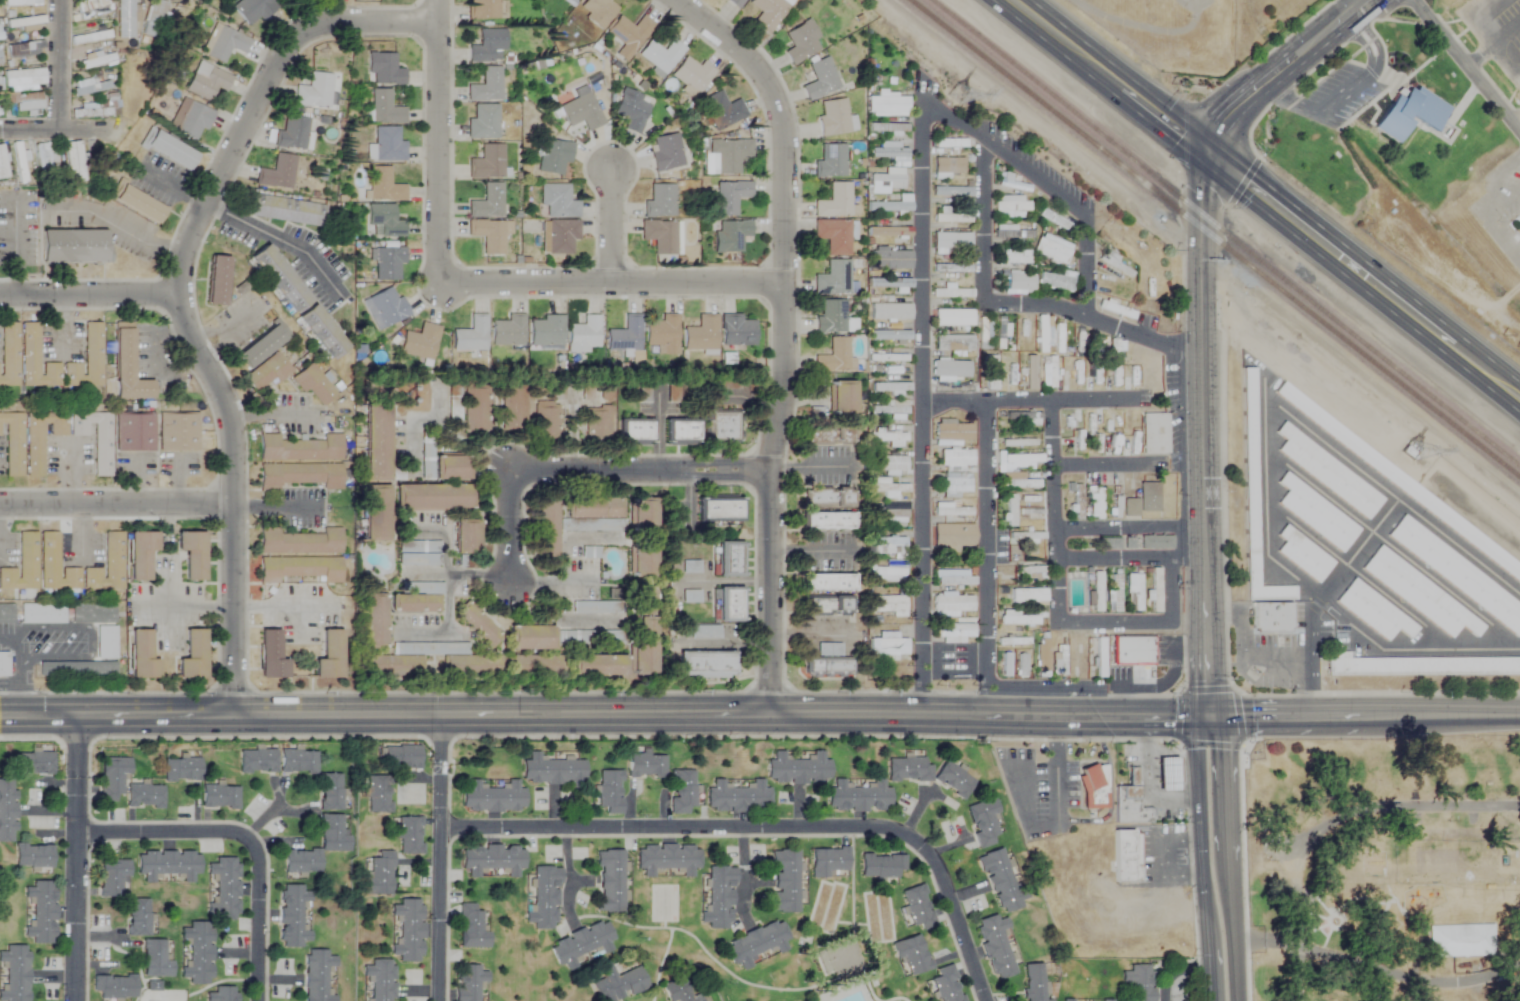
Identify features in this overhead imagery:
building: (21, 2)
building: (734, 3)
building: (90, 8)
building: (483, 9)
building: (252, 10)
building: (598, 12)
building: (768, 13)
building: (124, 19)
building: (155, 19)
building: (24, 24)
road: (1475, 25)
building: (629, 35)
building: (801, 42)
building: (224, 44)
building: (488, 47)
building: (24, 48)
road: (1493, 52)
building: (661, 55)
road: (57, 64)
road: (1464, 67)
road: (1278, 68)
building: (383, 70)
building: (22, 73)
building: (692, 75)
building: (820, 80)
building: (206, 82)
power tower: (963, 85)
building: (90, 86)
building: (486, 87)
building: (314, 92)
building: (24, 104)
building: (887, 105)
building: (384, 109)
building: (632, 110)
building: (88, 111)
building: (722, 111)
building: (581, 112)
building: (1408, 113)
building: (833, 118)
building: (189, 120)
building: (483, 123)
road: (51, 129)
building: (888, 129)
building: (292, 133)
road: (438, 141)
building: (950, 144)
building: (388, 145)
building: (168, 150)
traffic signals: (1204, 150)
building: (665, 153)
building: (891, 154)
building: (729, 155)
building: (553, 157)
building: (44, 161)
building: (17, 162)
building: (72, 162)
building: (831, 162)
building: (487, 163)
building: (2, 166)
building: (948, 167)
road: (1227, 169)
building: (277, 173)
building: (886, 182)
building: (383, 186)
building: (1014, 186)
road: (175, 190)
building: (953, 194)
building: (730, 197)
building: (557, 201)
building: (659, 202)
building: (835, 202)
building: (487, 203)
building: (138, 204)
building: (891, 206)
building: (285, 207)
building: (1011, 207)
building: (951, 219)
building: (1519, 220)
road: (613, 221)
building: (1055, 221)
building: (383, 222)
road: (120, 232)
building: (888, 232)
building: (1011, 233)
railway: (1224, 235)
building: (488, 236)
building: (660, 236)
building: (730, 236)
building: (833, 236)
building: (561, 237)
railway: (1213, 239)
road: (279, 240)
building: (951, 243)
building: (74, 244)
building: (1051, 250)
road: (922, 256)
building: (1015, 257)
building: (891, 259)
building: (386, 263)
building: (1117, 265)
building: (951, 268)
building: (280, 276)
building: (219, 277)
building: (833, 279)
building: (1055, 282)
road: (612, 283)
building: (889, 283)
building: (1019, 283)
building: (1115, 289)
building: (952, 292)
road: (90, 296)
road: (180, 296)
road: (1016, 302)
building: (384, 308)
building: (1115, 309)
building: (890, 312)
building: (830, 317)
building: (953, 318)
building: (1003, 328)
building: (323, 329)
building: (508, 331)
building: (546, 331)
building: (737, 331)
building: (982, 333)
building: (701, 334)
road: (785, 334)
building: (1040, 334)
building: (583, 335)
building: (662, 335)
building: (470, 336)
building: (625, 336)
building: (889, 336)
building: (1059, 339)
building: (419, 342)
building: (953, 343)
building: (257, 344)
building: (1114, 352)
building: (10, 354)
road: (1484, 355)
building: (833, 357)
building: (37, 359)
building: (88, 359)
building: (889, 360)
building: (128, 364)
building: (950, 369)
building: (991, 369)
building: (1146, 370)
building: (1030, 373)
building: (1116, 373)
building: (265, 374)
road: (1478, 377)
building: (314, 386)
building: (889, 388)
building: (585, 391)
building: (605, 393)
building: (842, 398)
road: (1028, 400)
building: (890, 409)
building: (475, 412)
building: (511, 412)
building: (1027, 418)
road: (270, 419)
building: (545, 420)
building: (592, 425)
building: (722, 427)
building: (136, 431)
building: (180, 431)
building: (633, 432)
building: (680, 432)
building: (952, 432)
road: (1201, 432)
road: (453, 434)
building: (1154, 434)
building: (819, 435)
building: (887, 435)
road: (409, 436)
building: (843, 436)
building: (42, 438)
building: (97, 438)
building: (12, 442)
building: (375, 442)
building: (1013, 444)
building: (301, 449)
power tower: (1415, 454)
building: (956, 458)
building: (1019, 460)
road: (1127, 463)
building: (890, 464)
building: (1327, 470)
building: (451, 471)
road: (639, 471)
building: (301, 476)
building: (1399, 481)
building: (1018, 482)
building: (955, 485)
building: (885, 488)
building: (827, 497)
building: (1253, 498)
building: (433, 499)
road: (117, 503)
building: (1097, 503)
building: (1142, 503)
road: (277, 504)
building: (719, 509)
building: (592, 510)
building: (950, 510)
building: (1011, 512)
building: (1315, 512)
building: (375, 515)
building: (889, 516)
building: (641, 518)
building: (828, 521)
road: (509, 527)
road: (1129, 527)
building: (549, 529)
building: (953, 536)
road: (564, 537)
building: (1026, 537)
building: (466, 538)
building: (301, 543)
building: (1155, 543)
building: (1108, 544)
building: (887, 546)
building: (418, 553)
building: (1302, 553)
building: (141, 555)
building: (192, 555)
road: (987, 557)
building: (730, 559)
road: (1130, 560)
building: (641, 561)
building: (23, 566)
building: (56, 566)
building: (108, 566)
building: (301, 570)
building: (1031, 572)
road: (461, 573)
building: (888, 574)
building: (1457, 574)
building: (955, 578)
road: (550, 580)
building: (827, 582)
building: (1154, 590)
building: (1115, 593)
building: (1135, 593)
building: (1418, 593)
road: (1056, 594)
building: (1028, 595)
building: (644, 600)
building: (887, 602)
building: (952, 603)
road: (183, 604)
building: (414, 604)
building: (730, 604)
building: (825, 606)
road: (279, 609)
building: (1372, 610)
building: (7, 615)
building: (43, 615)
building: (95, 615)
building: (1270, 617)
building: (1016, 619)
building: (373, 620)
building: (478, 625)
building: (704, 631)
building: (953, 631)
road: (20, 637)
building: (531, 640)
building: (1012, 641)
road: (90, 643)
building: (108, 644)
road: (1240, 644)
building: (887, 645)
building: (641, 649)
building: (1133, 650)
building: (1042, 654)
building: (143, 656)
building: (194, 656)
building: (271, 657)
building: (331, 657)
building: (1099, 657)
building: (1058, 659)
building: (827, 662)
building: (1079, 662)
building: (706, 664)
building: (1024, 664)
building: (5, 666)
building: (1419, 666)
building: (392, 667)
building: (469, 667)
building: (535, 667)
building: (593, 668)
road: (20, 670)
building: (78, 671)
road: (1297, 686)
road: (1363, 713)
road: (585, 714)
road: (1189, 715)
traffic signals: (1207, 715)
road: (1214, 733)
building: (400, 757)
building: (257, 761)
building: (298, 761)
building: (646, 765)
building: (46, 766)
building: (798, 769)
building: (909, 769)
building: (553, 771)
road: (1056, 771)
road: (1108, 773)
gas station: (1166, 774)
building: (1167, 774)
building: (112, 777)
building: (125, 777)
building: (190, 777)
building: (953, 779)
building: (1095, 787)
building: (330, 791)
building: (609, 791)
building: (682, 792)
building: (378, 794)
building: (492, 797)
building: (738, 797)
building: (858, 797)
building: (154, 798)
building: (228, 798)
building: (1129, 806)
road: (1398, 807)
building: (14, 814)
road: (1081, 818)
building: (983, 822)
road: (767, 827)
building: (409, 835)
road: (244, 837)
building: (333, 842)
road: (1279, 851)
building: (1125, 857)
road: (1199, 857)
road: (77, 858)
road: (440, 858)
building: (667, 858)
building: (43, 859)
building: (491, 859)
building: (829, 860)
building: (167, 865)
building: (881, 866)
park: (1381, 868)
building: (379, 874)
road: (1225, 876)
building: (112, 878)
building: (609, 881)
building: (784, 881)
building: (1000, 881)
building: (225, 887)
building: (544, 899)
building: (719, 899)
building: (917, 905)
building: (53, 910)
building: (291, 915)
building: (138, 917)
building: (471, 928)
road: (1296, 928)
building: (408, 929)
building: (1466, 940)
building: (582, 943)
building: (755, 943)
building: (995, 946)
building: (197, 953)
building: (911, 954)
building: (155, 960)
road: (1377, 969)
building: (26, 974)
building: (317, 975)
building: (379, 979)
building: (468, 982)
building: (1034, 982)
building: (1138, 982)
building: (618, 983)
building: (946, 984)
building: (114, 987)
building: (680, 990)
building: (221, 994)
building: (1067, 1000)
building: (1104, 1000)

